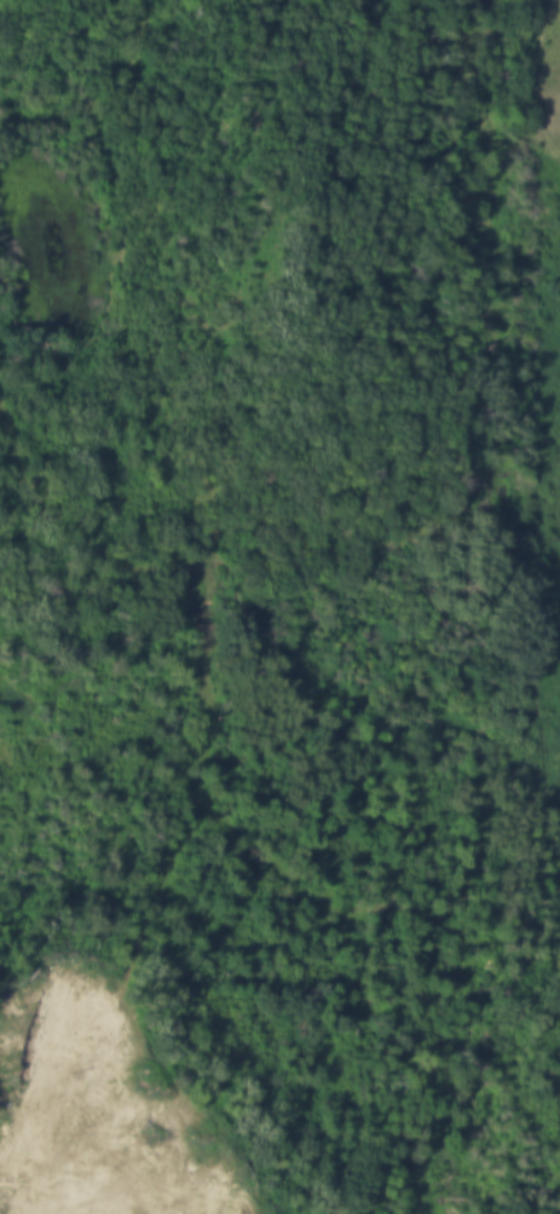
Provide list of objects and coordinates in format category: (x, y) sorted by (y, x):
quarry: (112, 1145)

